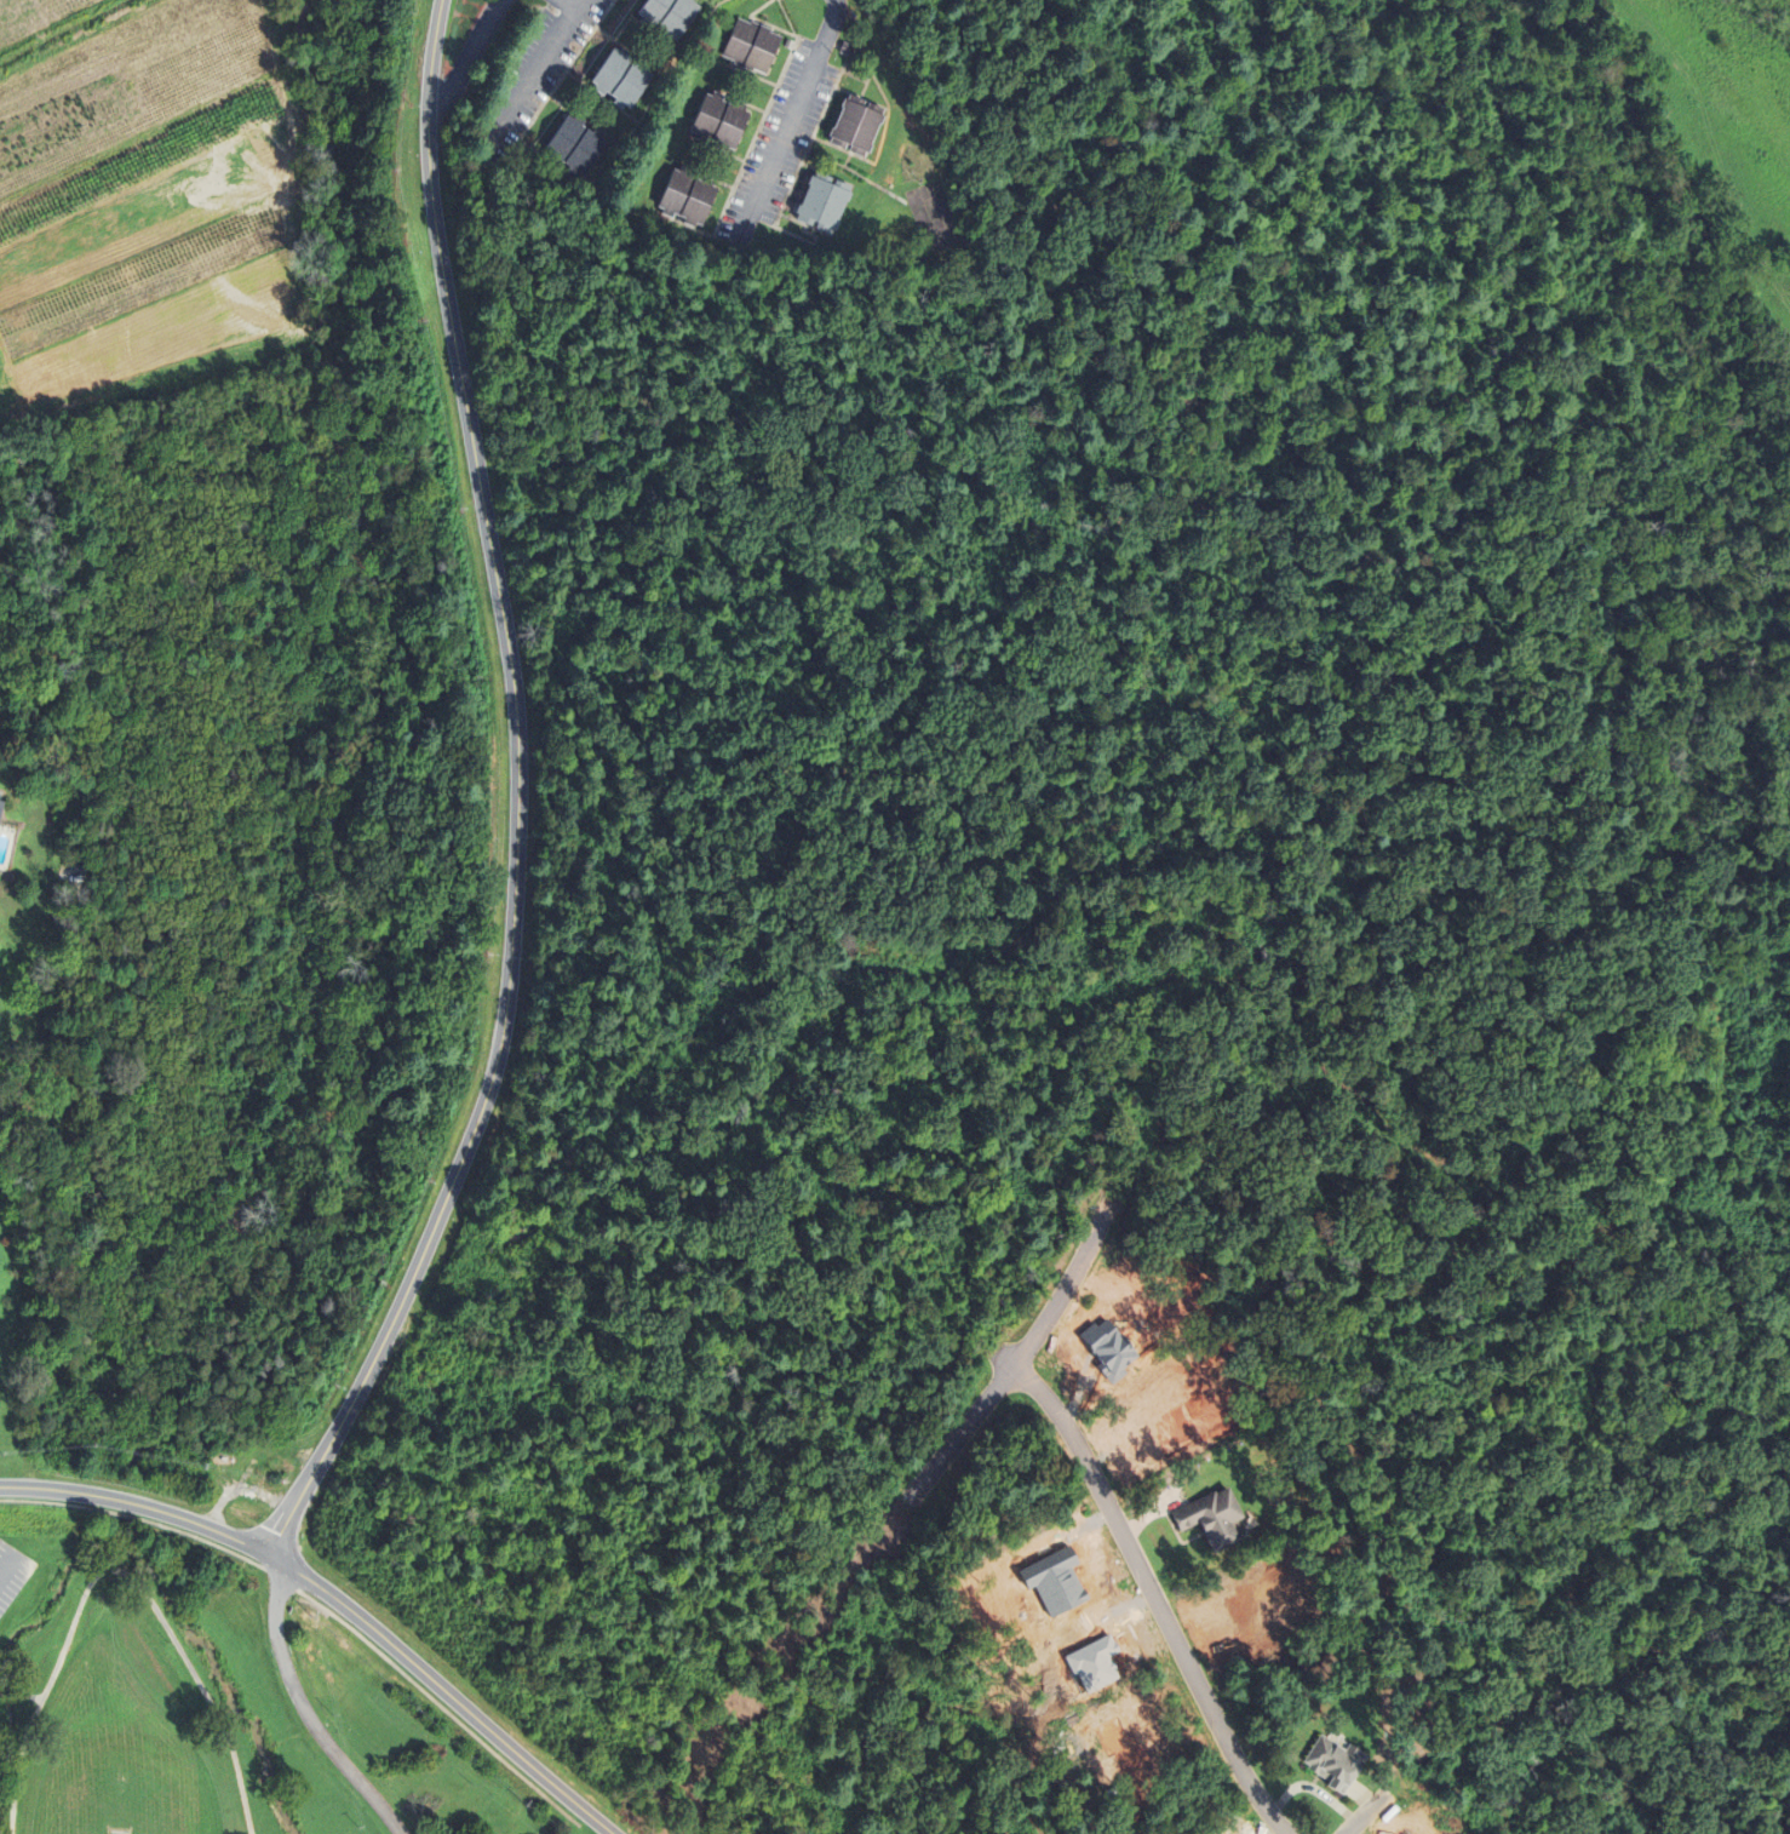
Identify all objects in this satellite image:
road: (568, 5)
building: (671, 16)
road: (80, 39)
building: (752, 46)
road: (471, 57)
road: (537, 67)
building: (625, 79)
road: (792, 120)
building: (721, 122)
building: (859, 126)
building: (578, 147)
road: (142, 153)
building: (688, 197)
building: (825, 204)
road: (298, 334)
road: (515, 801)
building: (1, 809)
road: (1020, 1353)
road: (13, 1489)
road: (156, 1512)
building: (1210, 1518)
road: (5, 1564)
road: (122, 1572)
parking lot: (13, 1576)
road: (1153, 1598)
road: (369, 1628)
park: (219, 1695)
road: (10, 1696)
road: (31, 1700)
road: (304, 1710)
road: (520, 1758)
building: (1333, 1764)
road: (1366, 1813)
road: (596, 1824)
park: (81, 1832)

